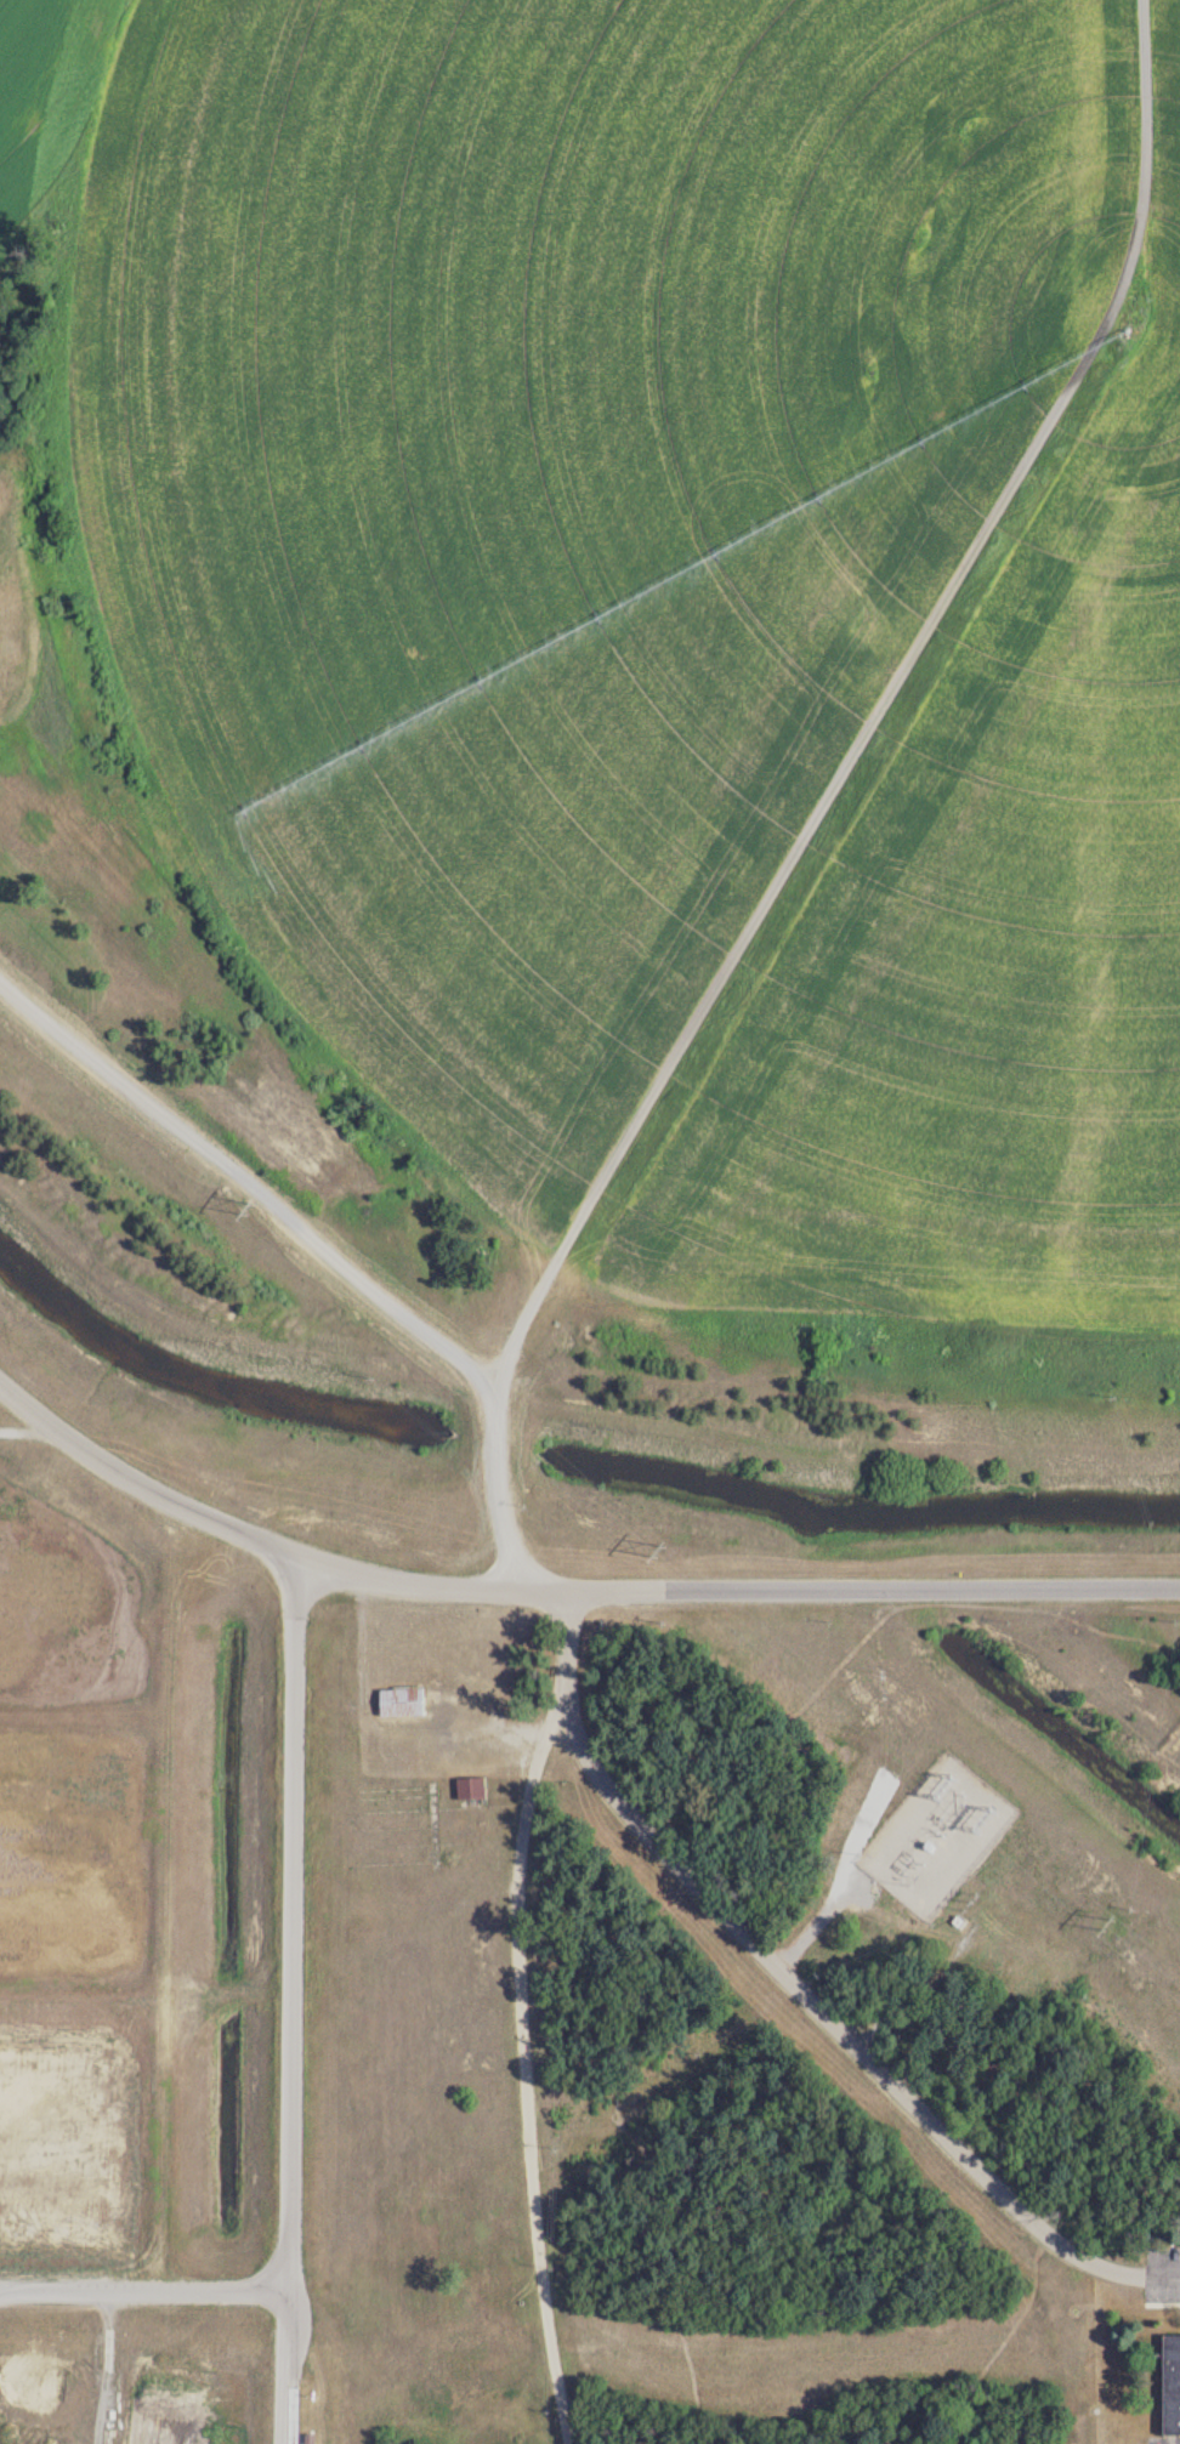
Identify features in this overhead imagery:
power tower: (250, 1210)
wastewater plant: (590, 1222)
power tower: (664, 1546)
road: (878, 1586)
building: (405, 1701)
road: (571, 1727)
building: (476, 1789)
power substation: (940, 1835)
road: (824, 1916)
power tower: (1111, 1921)
road: (296, 1931)
road: (926, 1982)
road: (529, 2076)
road: (1150, 2272)
road: (215, 2294)
building: (1174, 2383)

